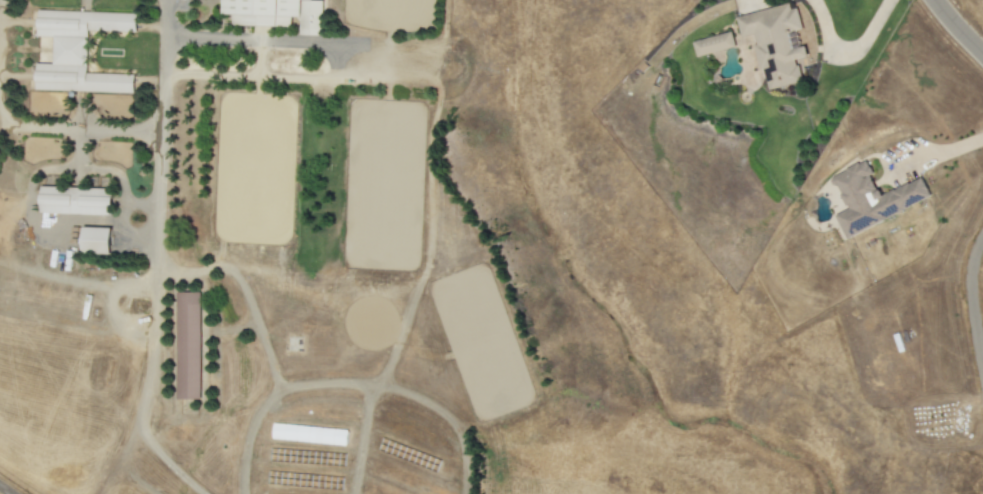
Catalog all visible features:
road: (84, 1)
building: (277, 13)
road: (957, 28)
road: (263, 41)
building: (713, 44)
building: (777, 44)
building: (79, 51)
road: (848, 54)
road: (159, 131)
road: (938, 153)
building: (872, 198)
building: (76, 200)
building: (96, 240)
road: (242, 288)
road: (971, 301)
building: (188, 345)
road: (249, 433)
building: (309, 434)
road: (362, 441)
building: (409, 455)
building: (307, 457)
building: (305, 480)
road: (4, 490)

